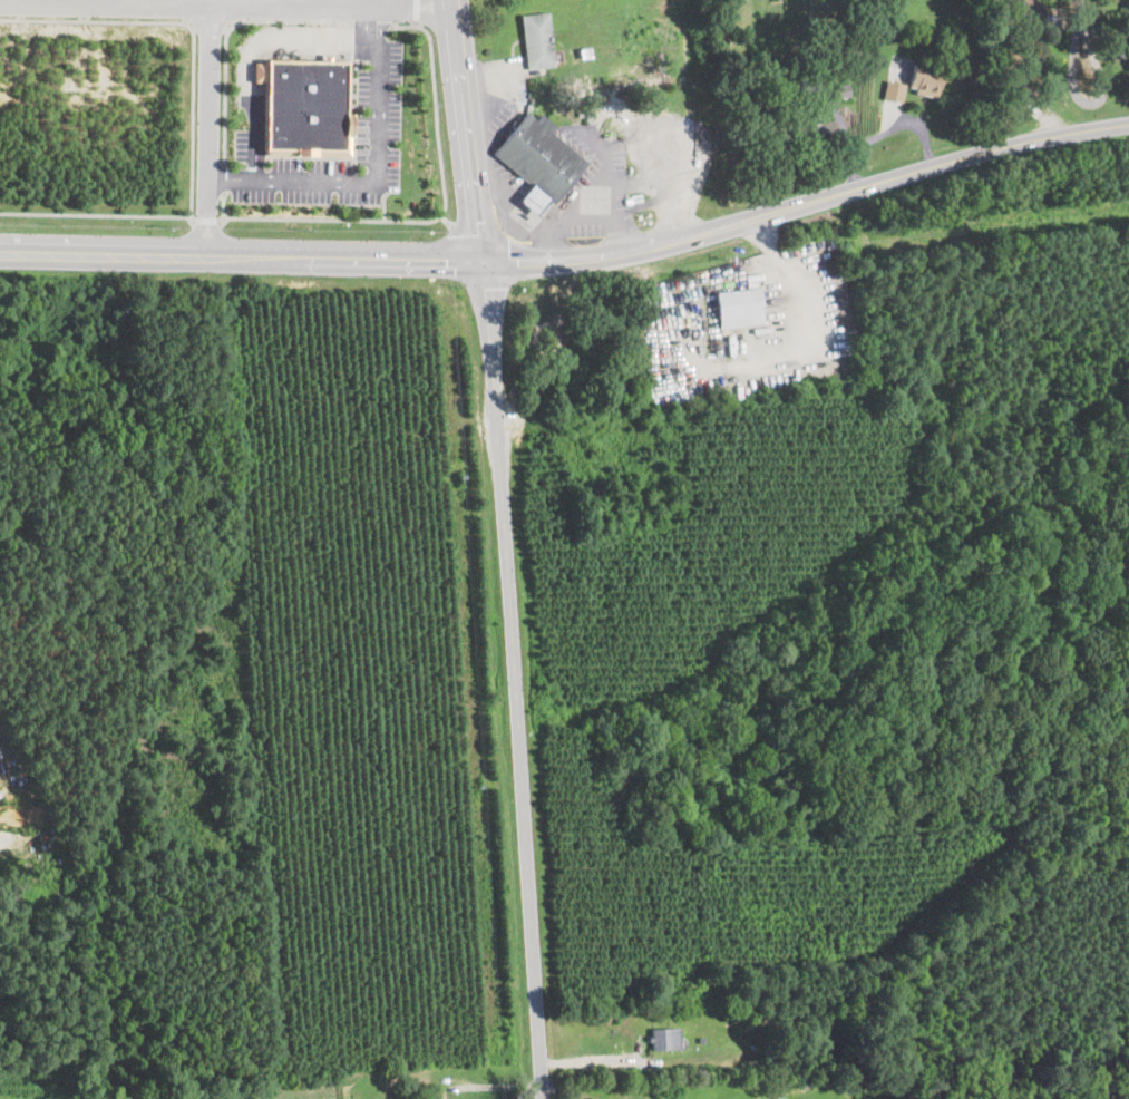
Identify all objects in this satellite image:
road: (274, 3)
road: (224, 7)
building: (1025, 9)
road: (416, 12)
road: (371, 26)
road: (191, 27)
road: (225, 35)
building: (537, 39)
road: (1087, 43)
road: (247, 52)
building: (921, 80)
building: (894, 89)
building: (838, 90)
road: (520, 100)
building: (304, 106)
building: (838, 123)
road: (464, 128)
road: (208, 129)
building: (814, 134)
building: (539, 155)
road: (223, 178)
road: (380, 181)
road: (807, 201)
road: (223, 206)
road: (386, 207)
road: (504, 213)
road: (97, 215)
road: (440, 216)
road: (207, 218)
road: (581, 220)
road: (104, 250)
road: (344, 254)
traffic signals: (483, 257)
road: (806, 300)
building: (736, 307)
road: (513, 678)
building: (664, 1038)
road: (554, 1090)
building: (439, 1095)

